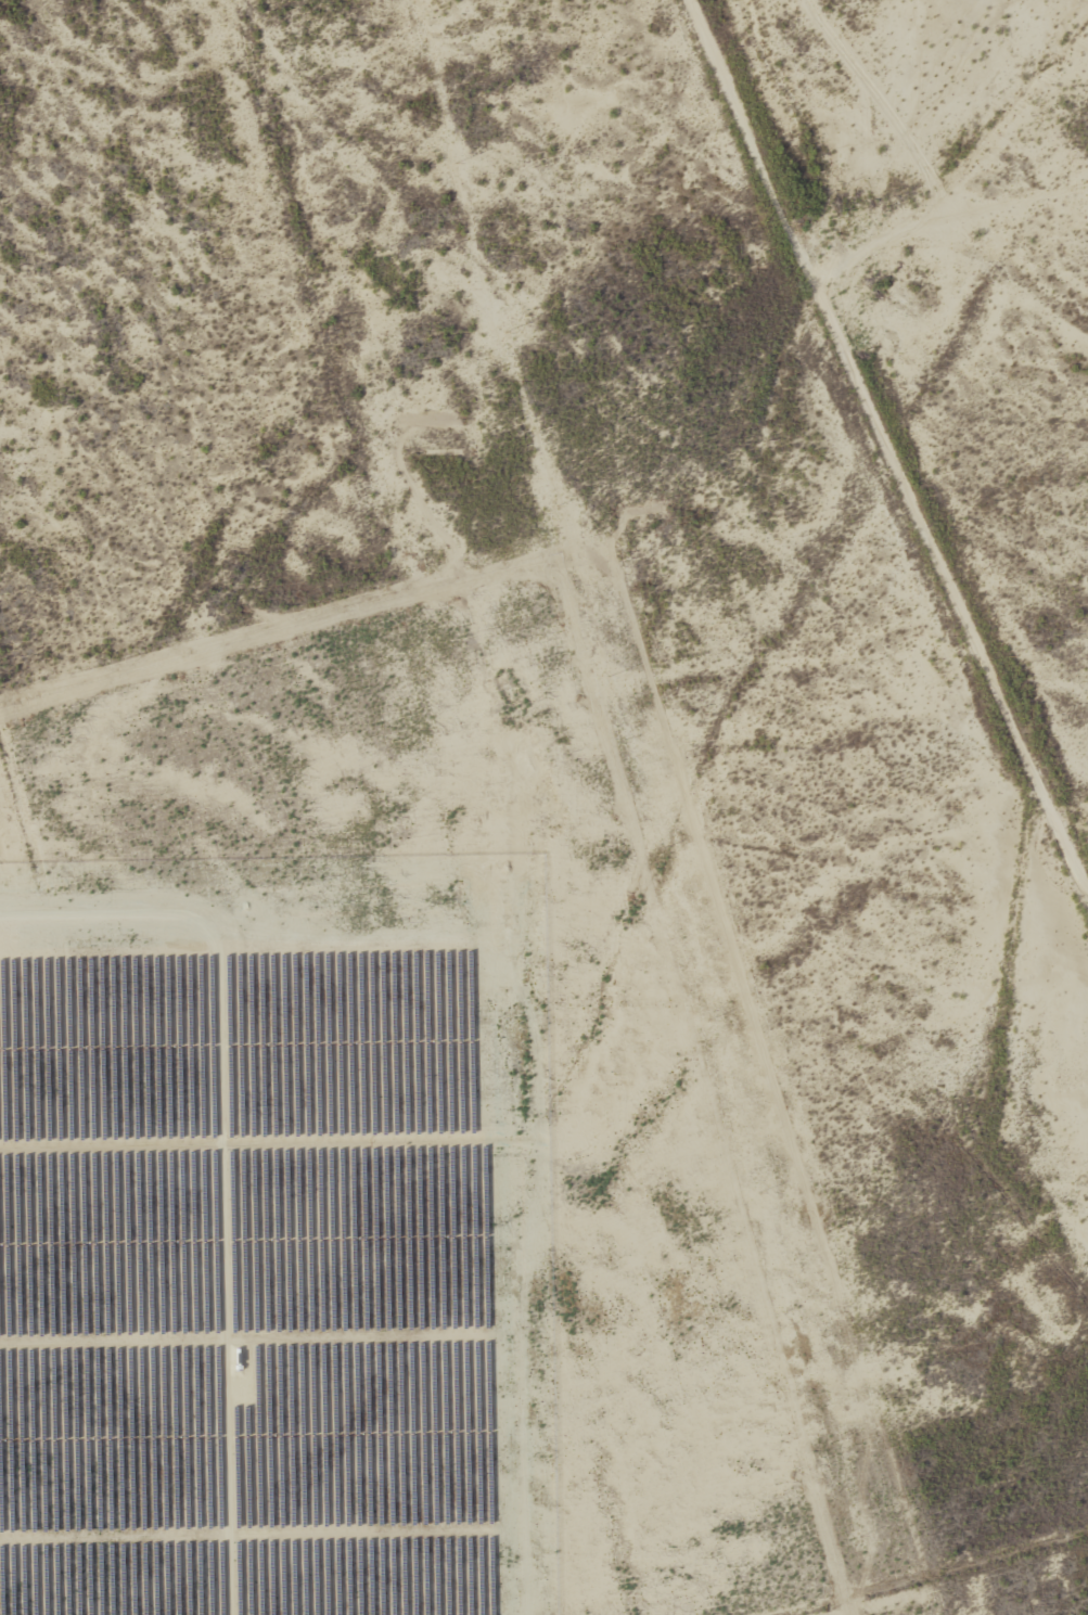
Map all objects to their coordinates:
road: (947, 218)
road: (889, 439)

